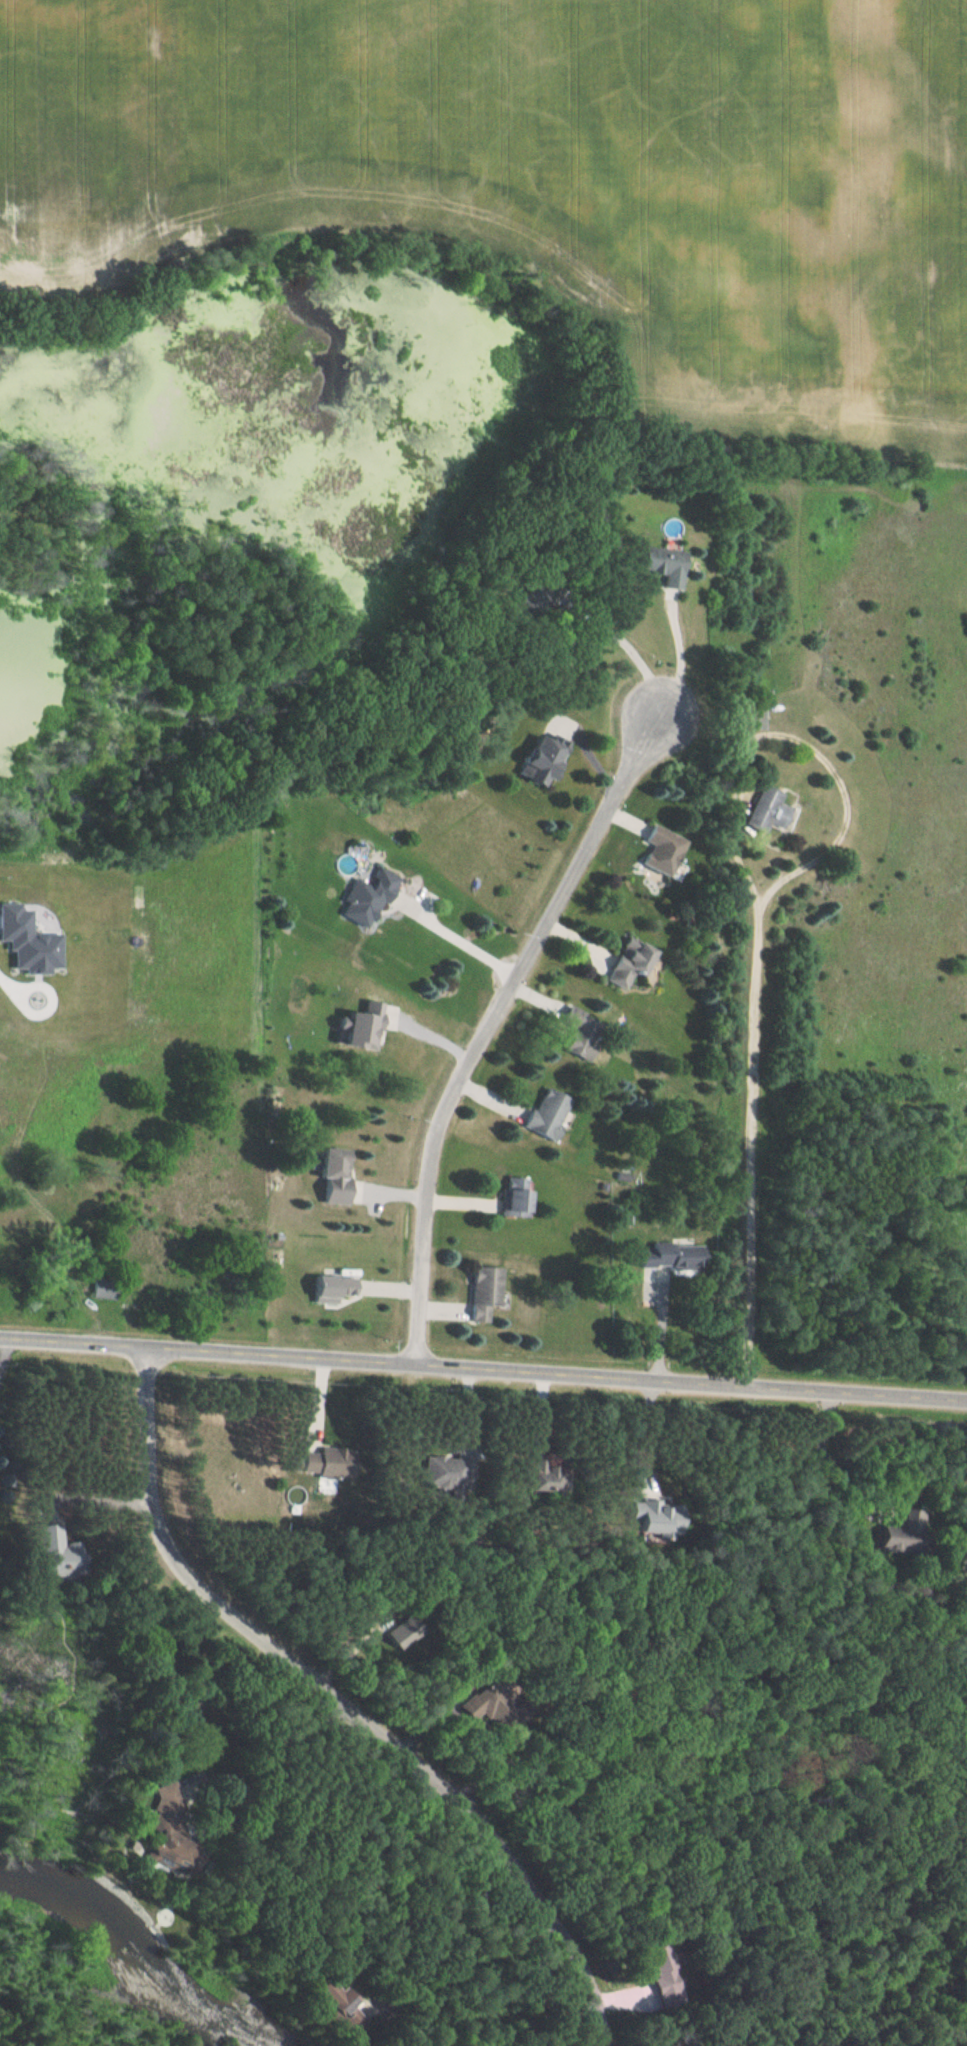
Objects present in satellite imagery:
building: (658, 565)
building: (751, 714)
building: (533, 760)
building: (759, 811)
building: (660, 849)
building: (364, 898)
road: (761, 918)
road: (462, 936)
building: (625, 963)
road: (501, 1005)
building: (577, 1034)
road: (433, 1036)
building: (544, 1114)
building: (330, 1175)
building: (510, 1197)
building: (669, 1257)
building: (330, 1287)
building: (100, 1289)
building: (481, 1292)
road: (77, 1339)
road: (4, 1354)
road: (560, 1370)
road: (646, 1433)
building: (322, 1462)
building: (439, 1473)
building: (540, 1476)
building: (649, 1517)
building: (897, 1535)
building: (52, 1553)
road: (342, 1703)
building: (485, 1705)
building: (159, 1823)
river: (133, 1946)
building: (658, 1969)
building: (331, 2005)

